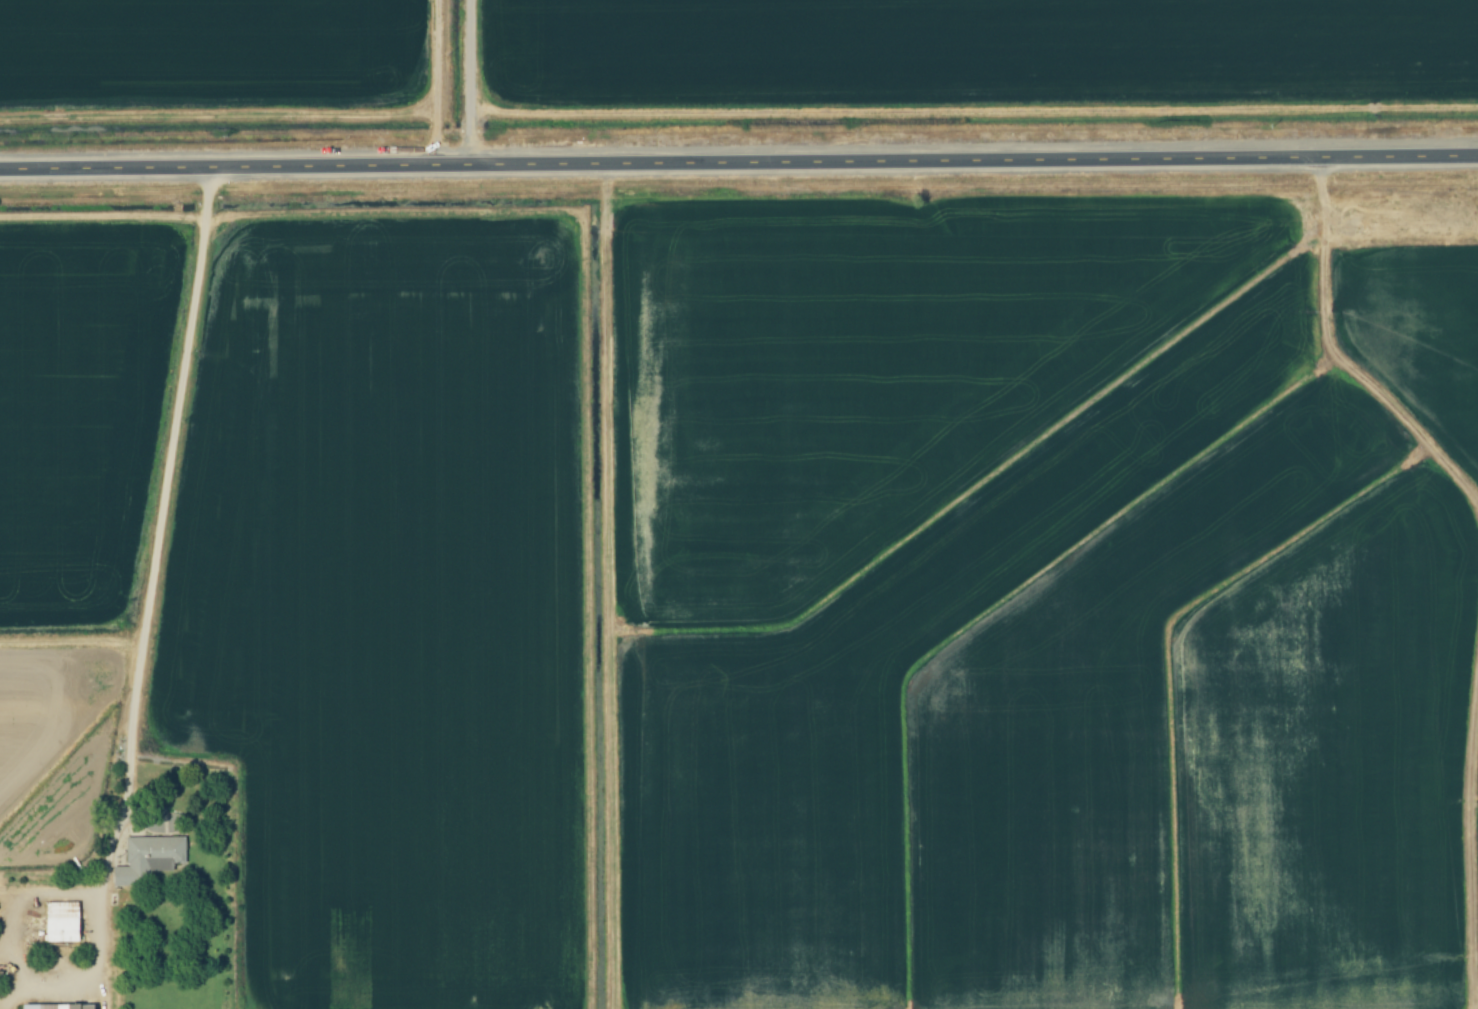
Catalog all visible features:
road: (477, 84)
road: (739, 166)
road: (173, 496)
building: (148, 857)
building: (60, 921)
building: (56, 1006)

